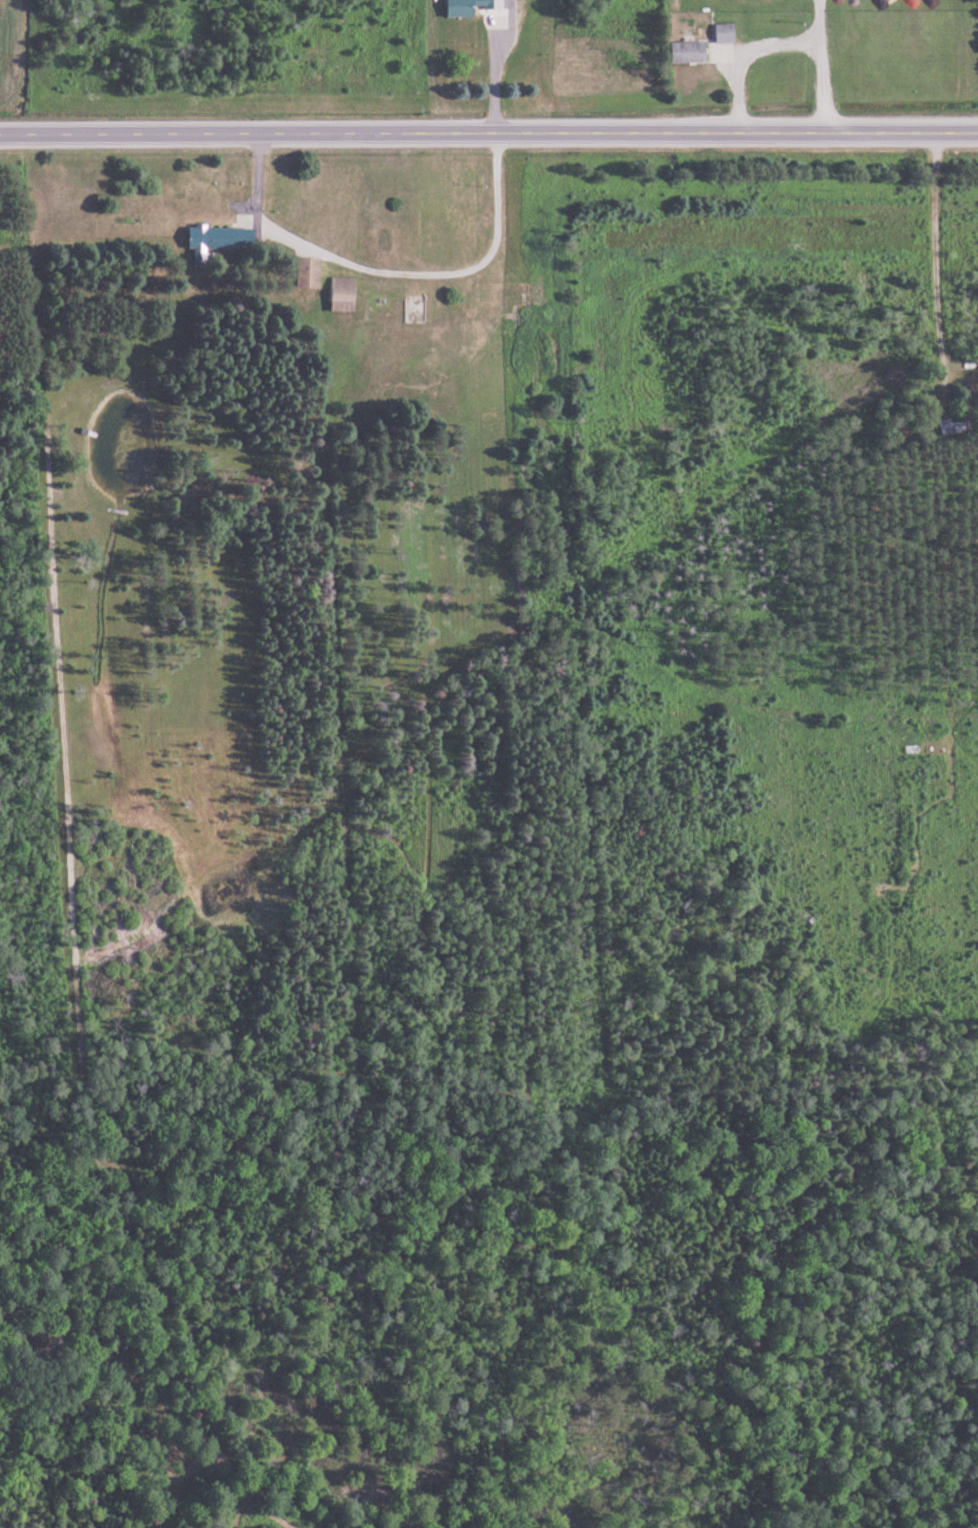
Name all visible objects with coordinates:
building: (469, 7)
building: (725, 33)
building: (688, 52)
road: (489, 134)
building: (218, 239)
road: (387, 271)
building: (309, 272)
building: (344, 294)
building: (952, 424)

